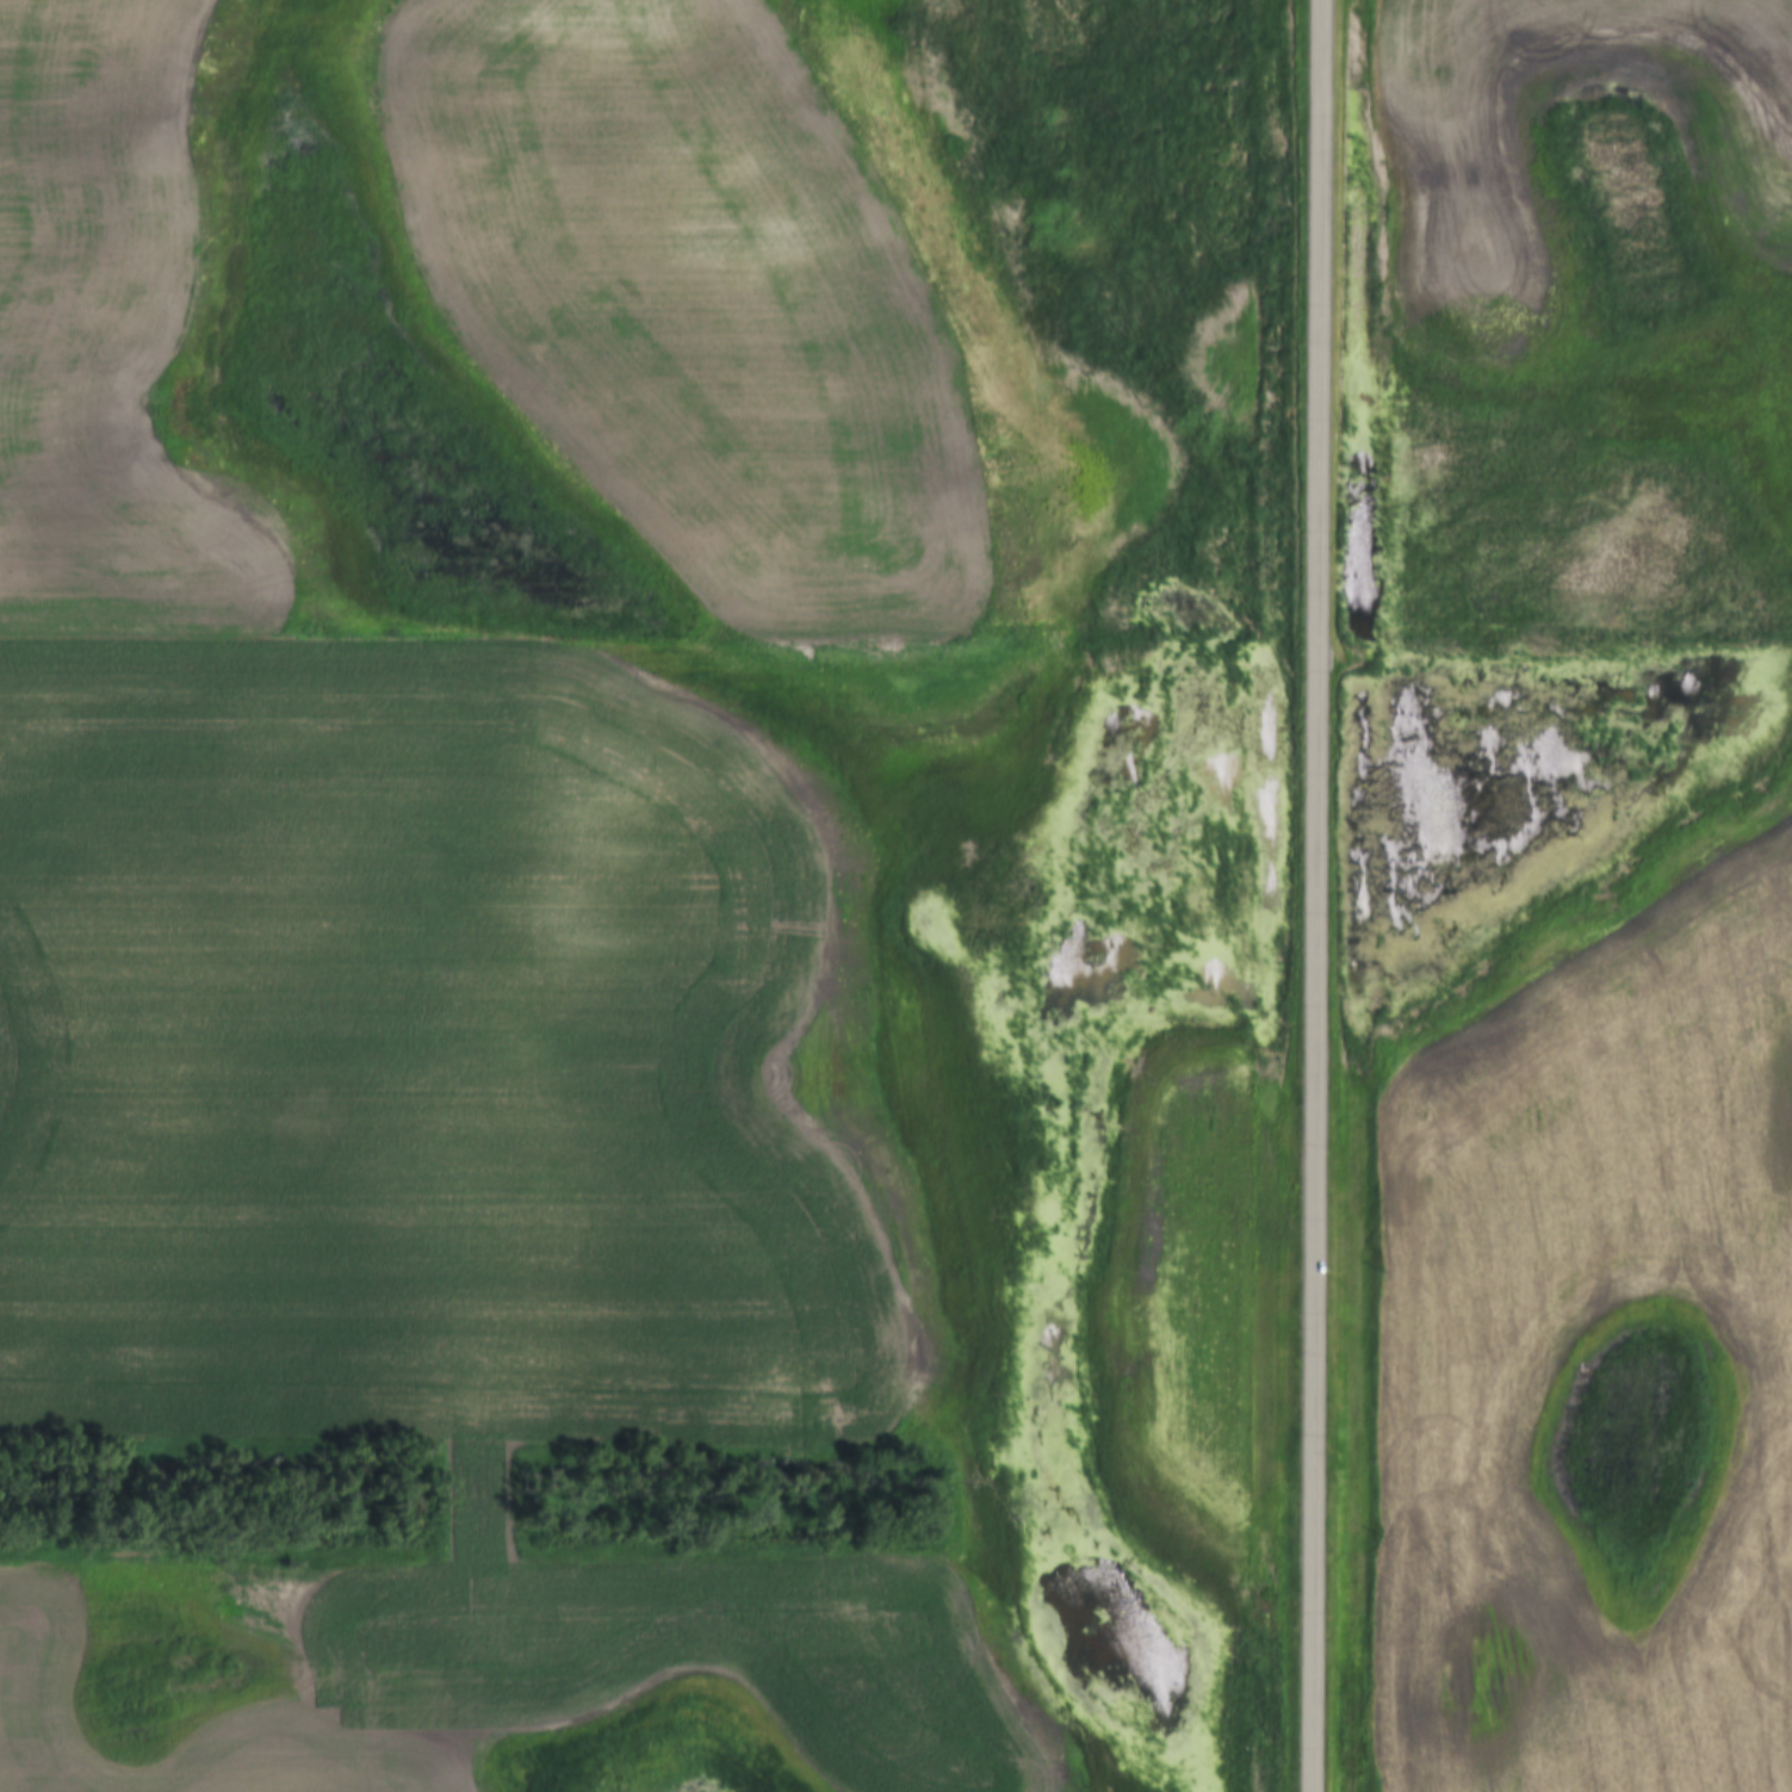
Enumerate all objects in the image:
road: (1313, 895)

